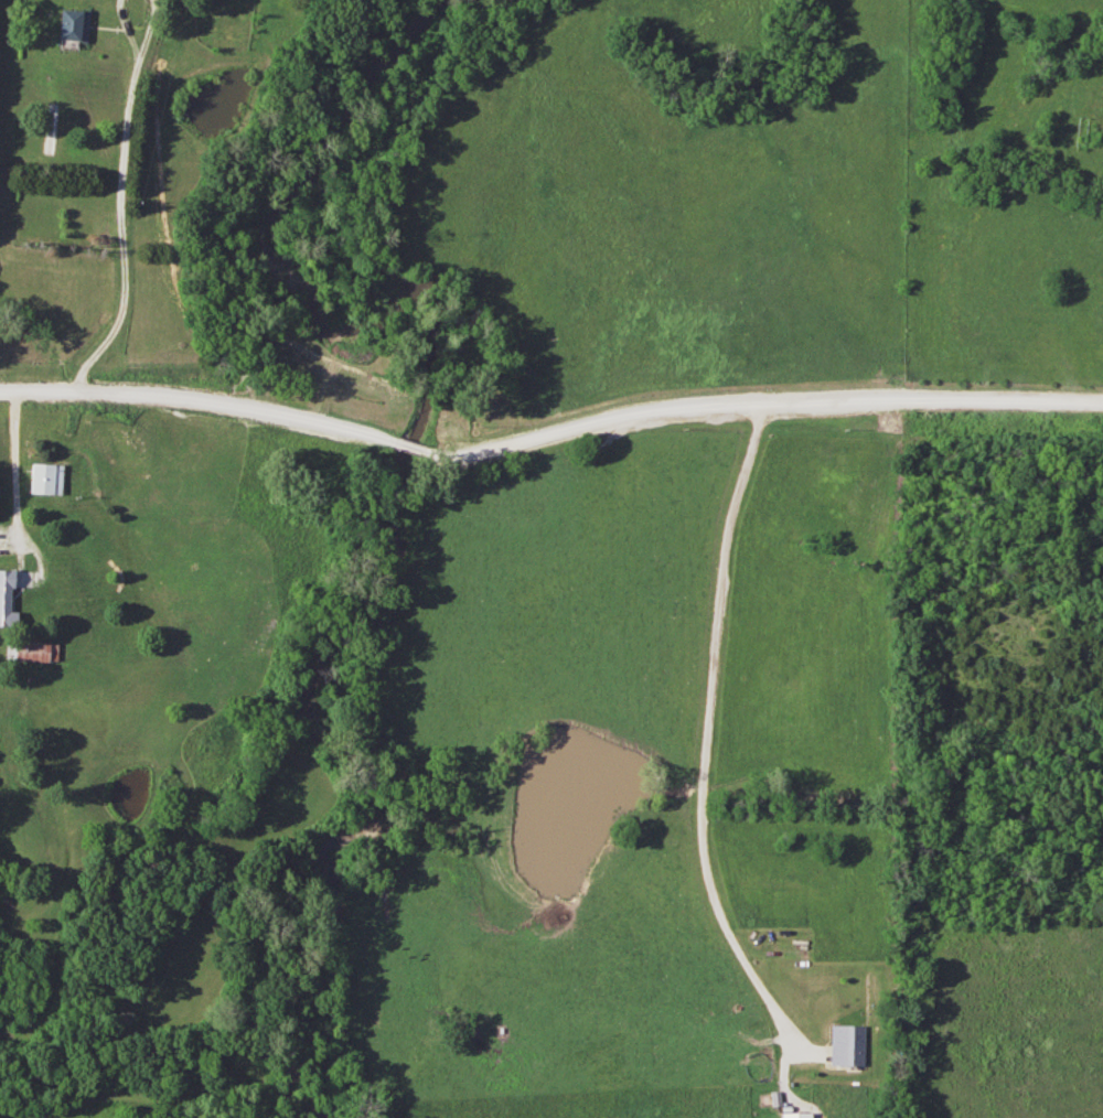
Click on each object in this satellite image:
building: (72, 26)
road: (138, 62)
building: (50, 128)
road: (122, 235)
road: (548, 437)
building: (43, 479)
road: (18, 512)
building: (6, 600)
building: (29, 652)
road: (706, 744)
building: (846, 1045)
building: (793, 1115)

